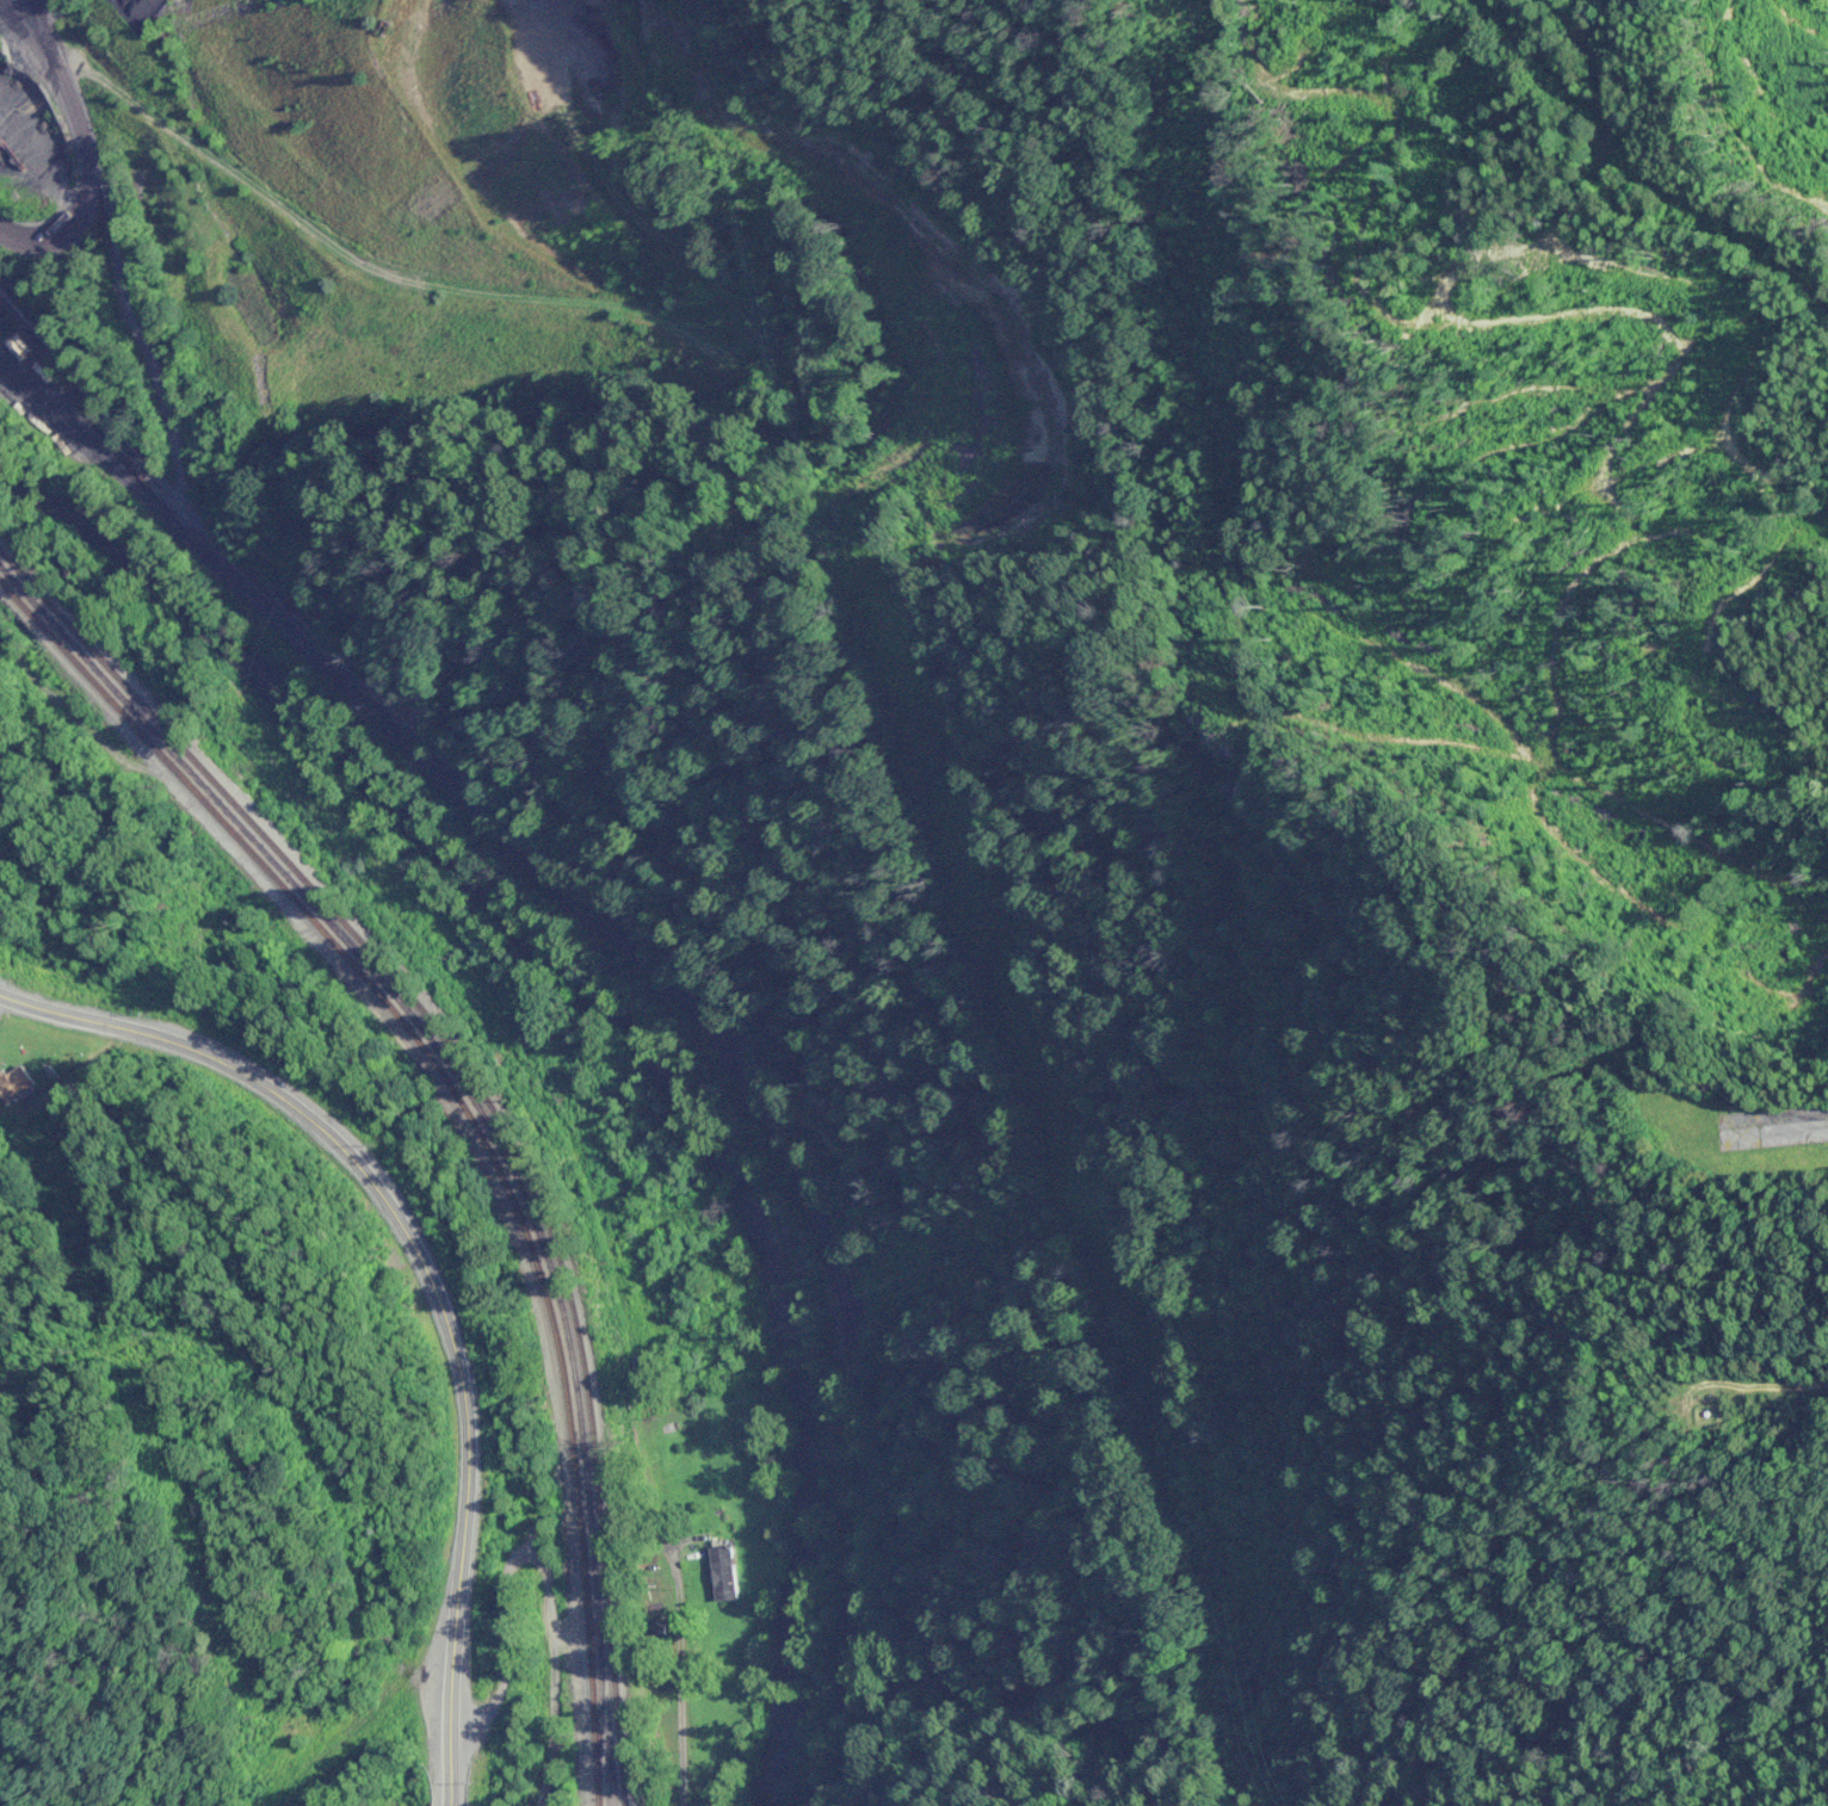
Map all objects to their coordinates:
quarry: (507, 227)
road: (305, 466)
railway: (415, 693)
road: (638, 855)
river: (626, 1023)
railway: (469, 1091)
railway: (486, 1095)
railway: (469, 1114)
road: (427, 1276)
road: (545, 1563)
building: (725, 1573)
road: (677, 1731)

